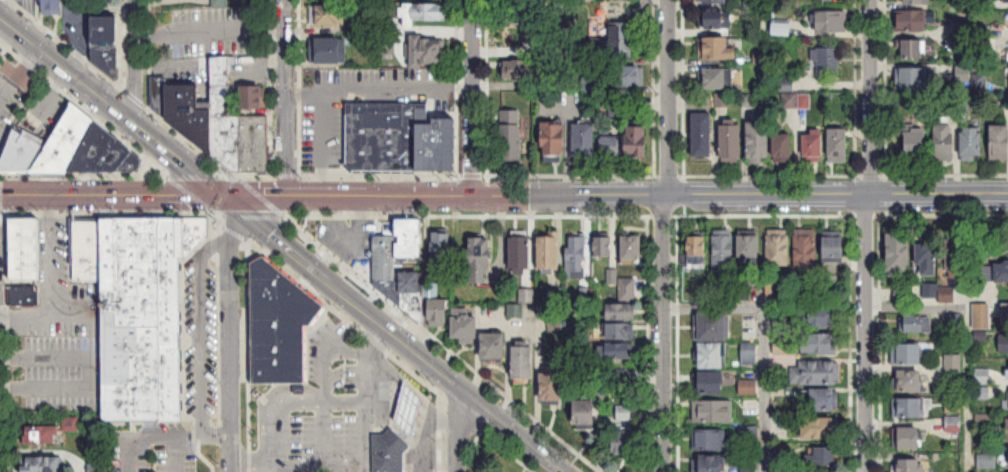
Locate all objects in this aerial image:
building: (715, 1)
building: (1005, 1)
building: (219, 2)
building: (917, 2)
building: (52, 7)
building: (526, 12)
building: (423, 13)
road: (134, 15)
building: (329, 17)
building: (718, 19)
building: (912, 20)
building: (831, 21)
road: (5, 28)
building: (963, 28)
road: (209, 30)
parking lot: (211, 33)
building: (616, 42)
building: (106, 43)
building: (963, 46)
building: (717, 49)
building: (915, 49)
building: (328, 51)
building: (427, 52)
building: (827, 61)
building: (523, 69)
road: (16, 71)
road: (134, 75)
building: (963, 75)
building: (630, 77)
building: (716, 79)
building: (913, 79)
building: (220, 86)
road: (362, 92)
road: (284, 97)
parking lot: (15, 98)
road: (474, 98)
road: (114, 105)
building: (191, 115)
building: (703, 135)
building: (383, 136)
building: (510, 136)
building: (227, 141)
building: (759, 141)
building: (66, 142)
building: (554, 142)
building: (585, 142)
building: (639, 142)
building: (945, 142)
road: (322, 143)
building: (732, 143)
building: (1000, 143)
building: (253, 144)
road: (566, 144)
building: (917, 144)
building: (973, 144)
building: (611, 146)
building: (814, 146)
building: (839, 146)
building: (785, 148)
building: (22, 154)
building: (106, 154)
road: (114, 194)
traffic signals: (229, 196)
road: (618, 197)
road: (664, 235)
road: (868, 236)
building: (408, 238)
parking lot: (347, 241)
road: (214, 247)
building: (604, 247)
building: (750, 248)
building: (779, 248)
building: (26, 249)
building: (441, 249)
building: (723, 249)
building: (806, 249)
building: (834, 249)
building: (632, 250)
building: (697, 252)
building: (520, 254)
building: (549, 254)
building: (899, 254)
building: (927, 255)
building: (576, 257)
building: (383, 258)
building: (481, 261)
building: (958, 262)
building: (1002, 272)
road: (50, 280)
building: (409, 287)
building: (627, 290)
building: (928, 291)
building: (902, 294)
building: (947, 295)
building: (25, 296)
building: (140, 309)
building: (622, 311)
building: (438, 313)
building: (1006, 314)
building: (818, 316)
building: (982, 316)
building: (913, 324)
building: (280, 326)
building: (466, 326)
building: (714, 327)
building: (621, 331)
road: (230, 334)
road: (393, 334)
road: (762, 340)
road: (966, 340)
road: (200, 342)
building: (1003, 343)
building: (806, 344)
building: (494, 347)
building: (616, 351)
building: (907, 354)
building: (712, 356)
building: (523, 363)
building: (953, 369)
road: (90, 372)
building: (816, 372)
parking lot: (54, 375)
building: (621, 376)
building: (909, 381)
building: (712, 383)
building: (552, 384)
building: (824, 399)
road: (318, 401)
building: (953, 404)
parking lot: (317, 408)
building: (409, 408)
building: (908, 408)
building: (712, 411)
building: (585, 412)
building: (624, 412)
building: (953, 423)
building: (820, 428)
road: (455, 429)
building: (1007, 430)
road: (216, 431)
road: (142, 433)
building: (908, 438)
building: (709, 440)
building: (624, 442)
building: (389, 450)
building: (824, 457)
building: (709, 463)
building: (43, 464)
road: (358, 464)
building: (911, 465)
building: (749, 467)

